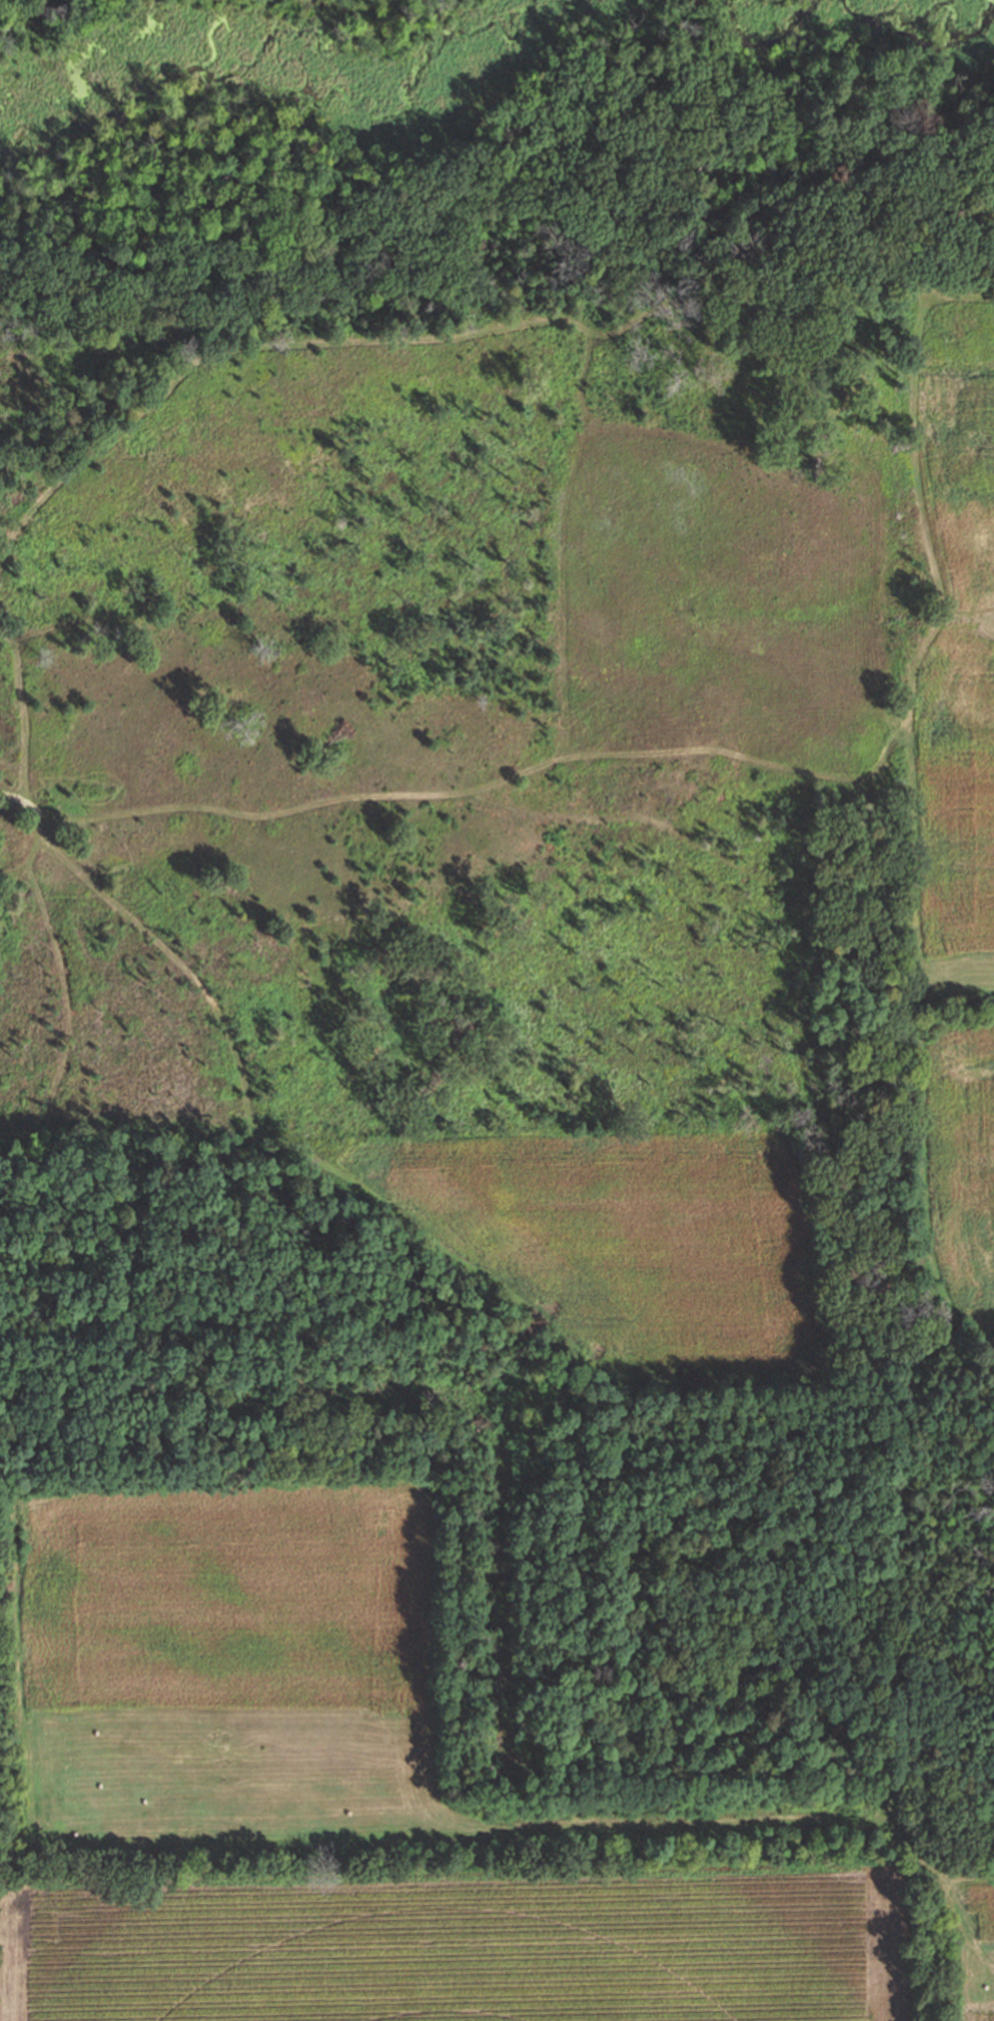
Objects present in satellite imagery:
road: (467, 330)
road: (705, 761)
park: (499, 990)
road: (924, 1025)
road: (658, 1812)
road: (933, 1866)

